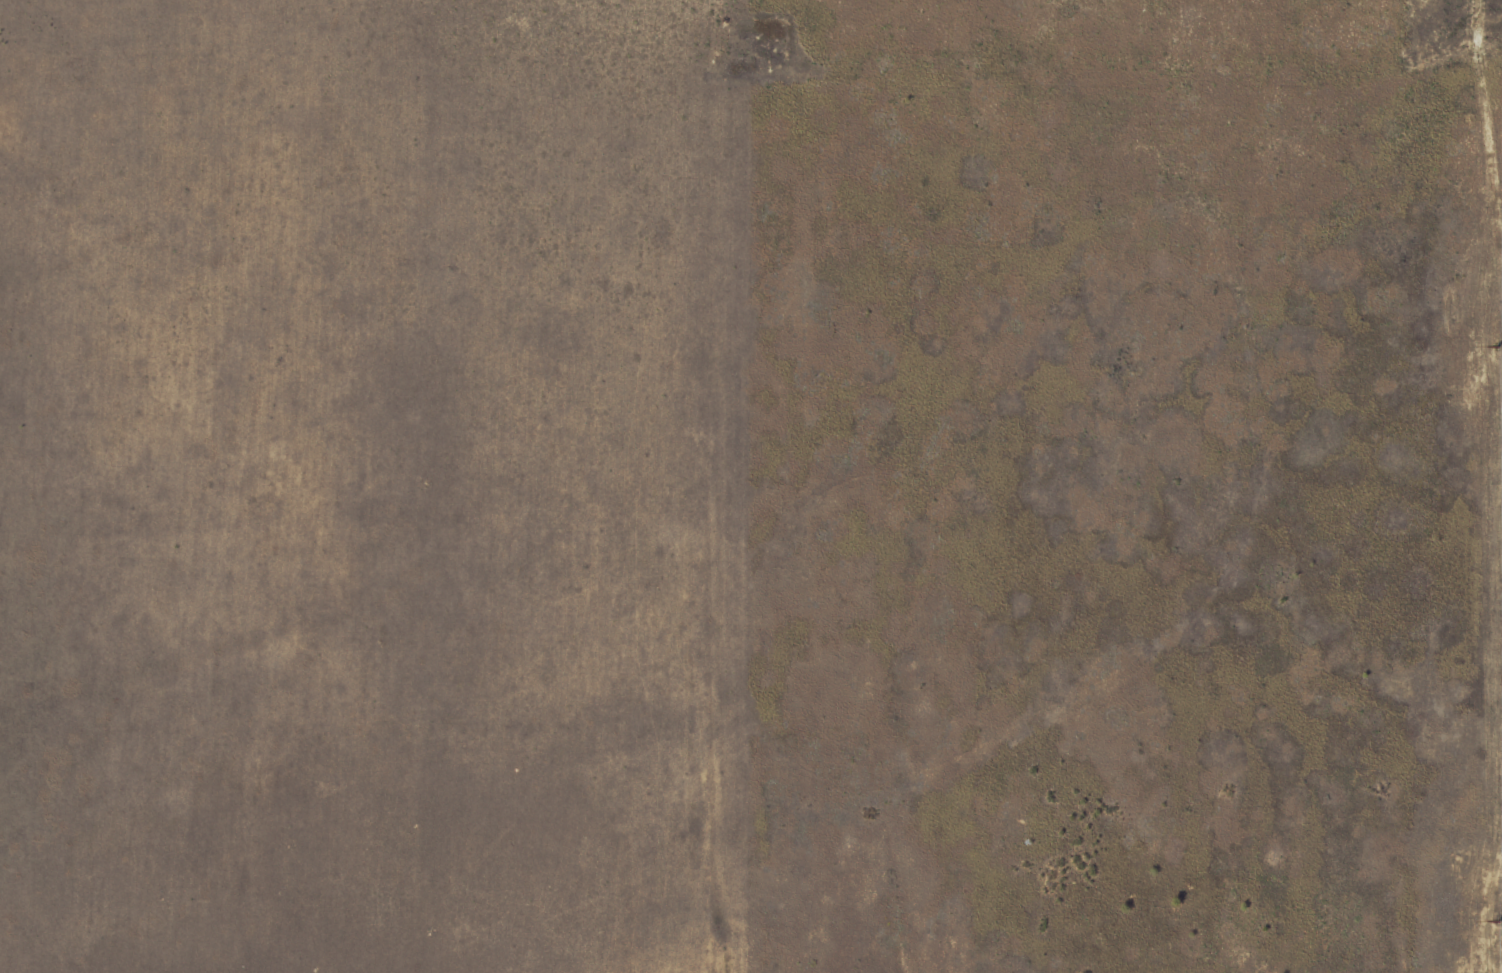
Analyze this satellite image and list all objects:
power tower: (1496, 356)
power tower: (1498, 920)

